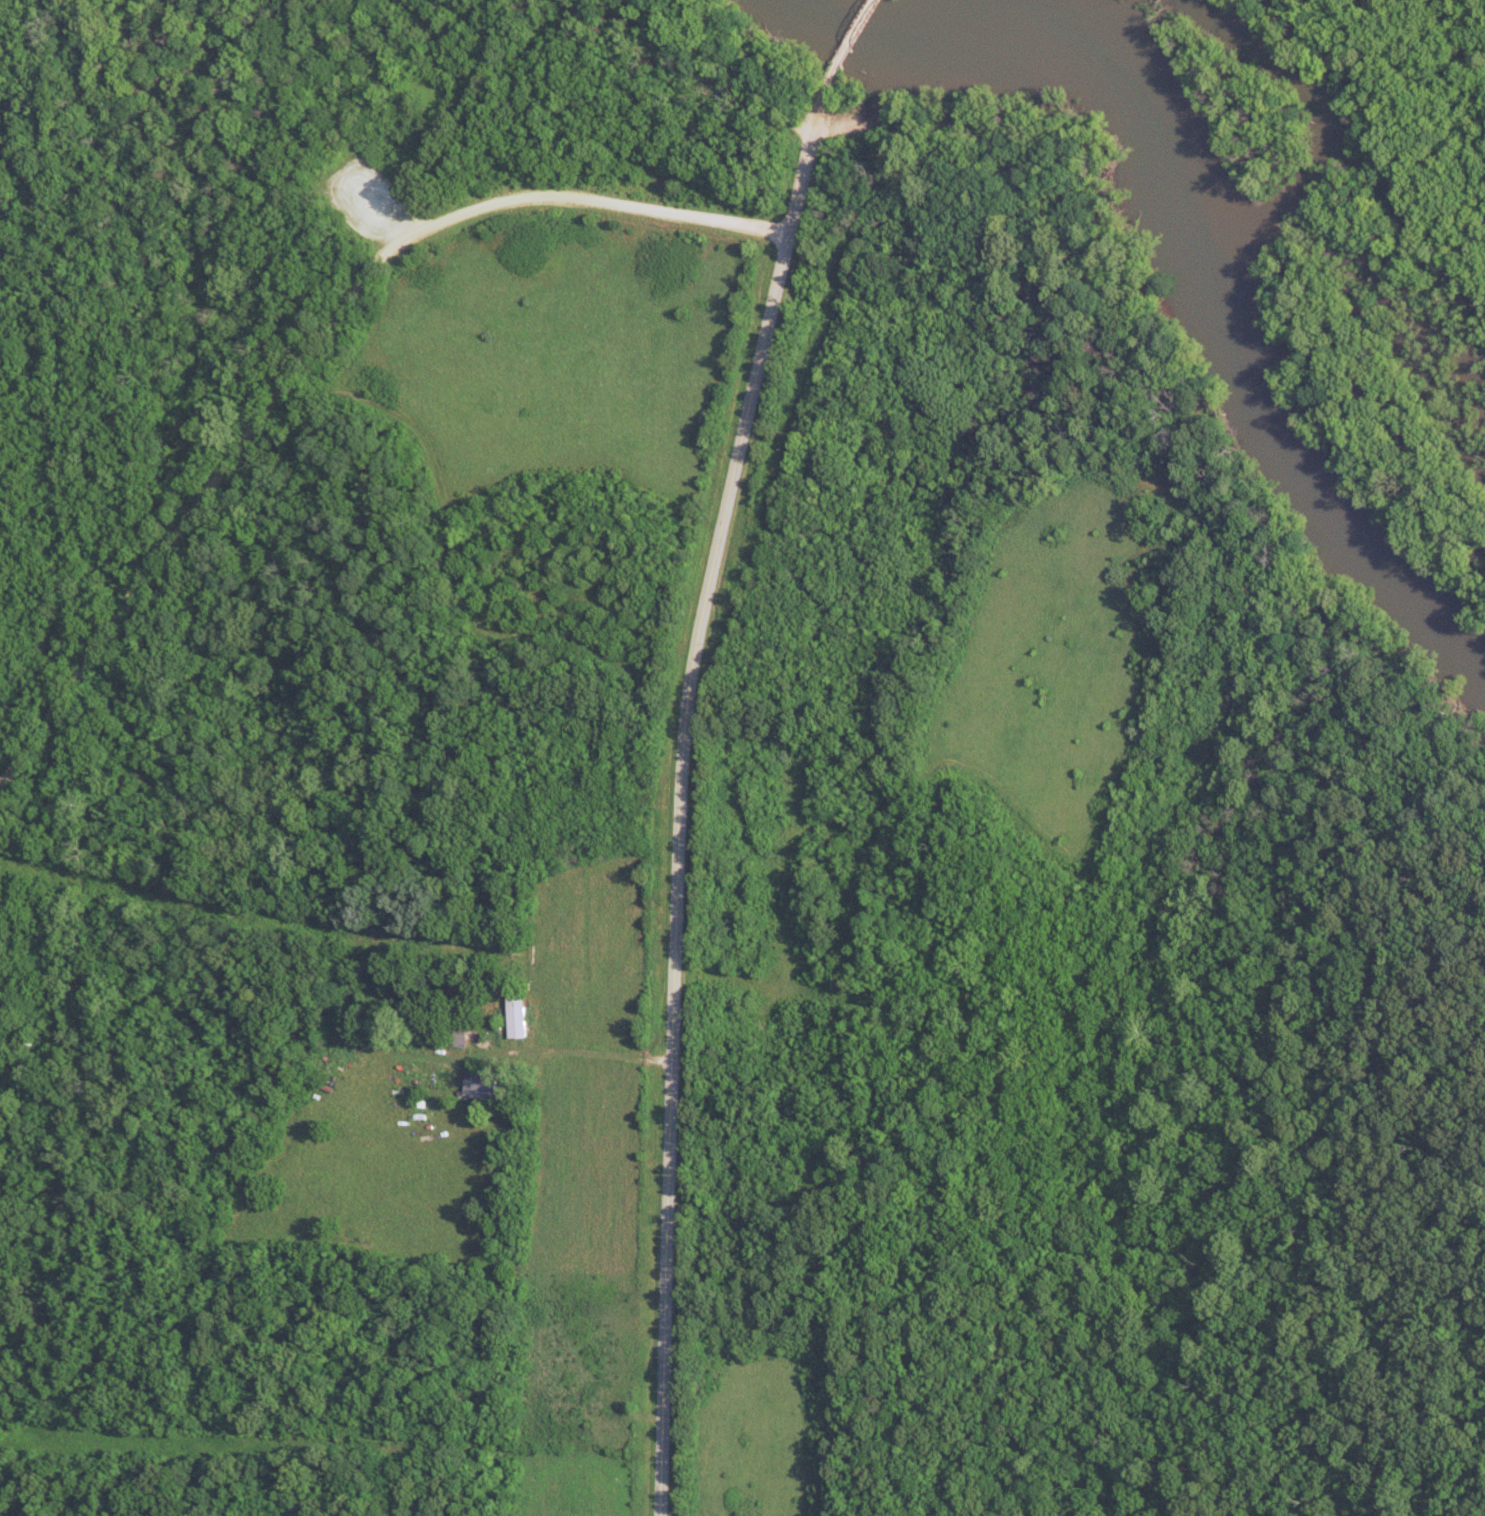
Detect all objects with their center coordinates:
road: (856, 34)
river: (1205, 245)
road: (313, 347)
road: (464, 599)
road: (679, 782)
building: (522, 1017)
road: (567, 1057)
building: (484, 1080)

